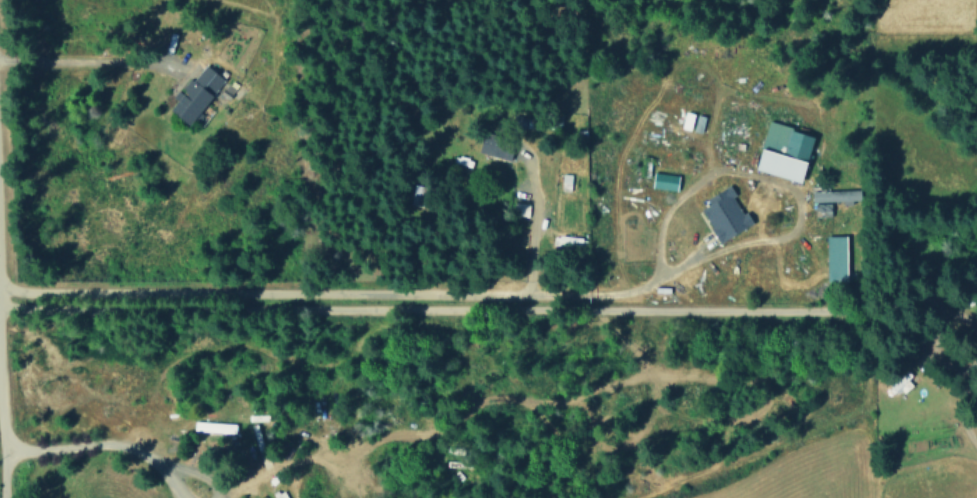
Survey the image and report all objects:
road: (81, 58)
building: (196, 93)
building: (698, 123)
building: (496, 146)
building: (784, 151)
building: (664, 181)
road: (776, 187)
building: (835, 195)
building: (822, 209)
building: (725, 214)
building: (836, 259)
road: (328, 295)
road: (550, 311)
building: (213, 426)
crop: (800, 472)
road: (1, 476)

